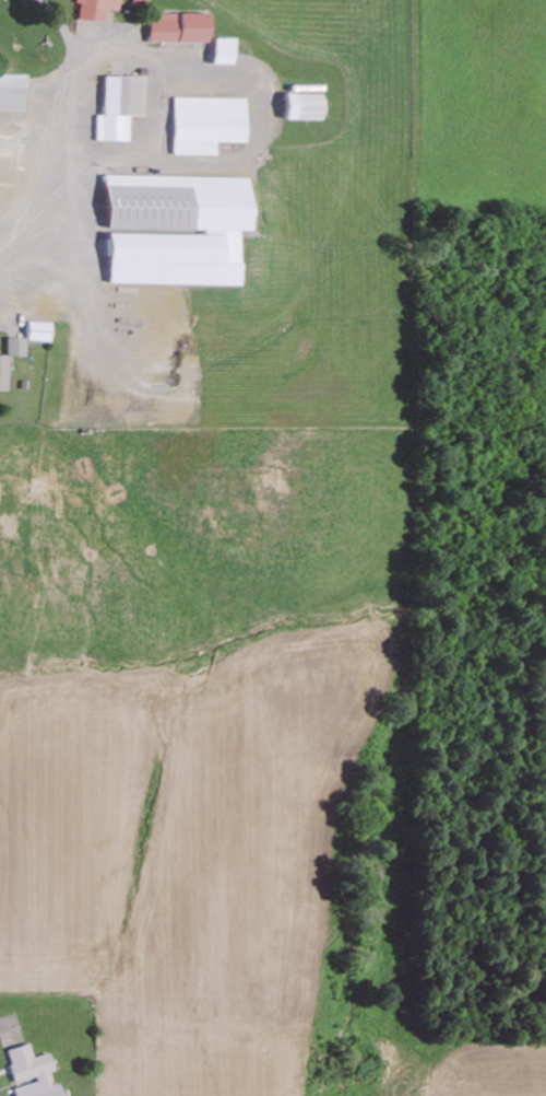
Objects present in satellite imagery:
building: (139, 1)
building: (97, 9)
building: (176, 27)
building: (222, 50)
building: (14, 92)
building: (124, 106)
building: (210, 124)
building: (173, 229)
building: (37, 330)
building: (15, 347)
building: (3, 372)
building: (31, 1072)

